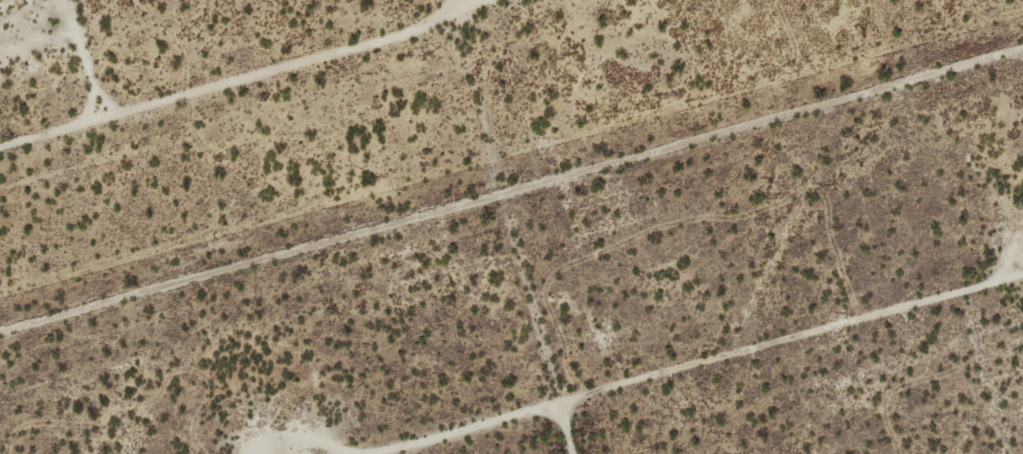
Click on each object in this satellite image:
road: (230, 78)
road: (512, 190)
road: (767, 341)

